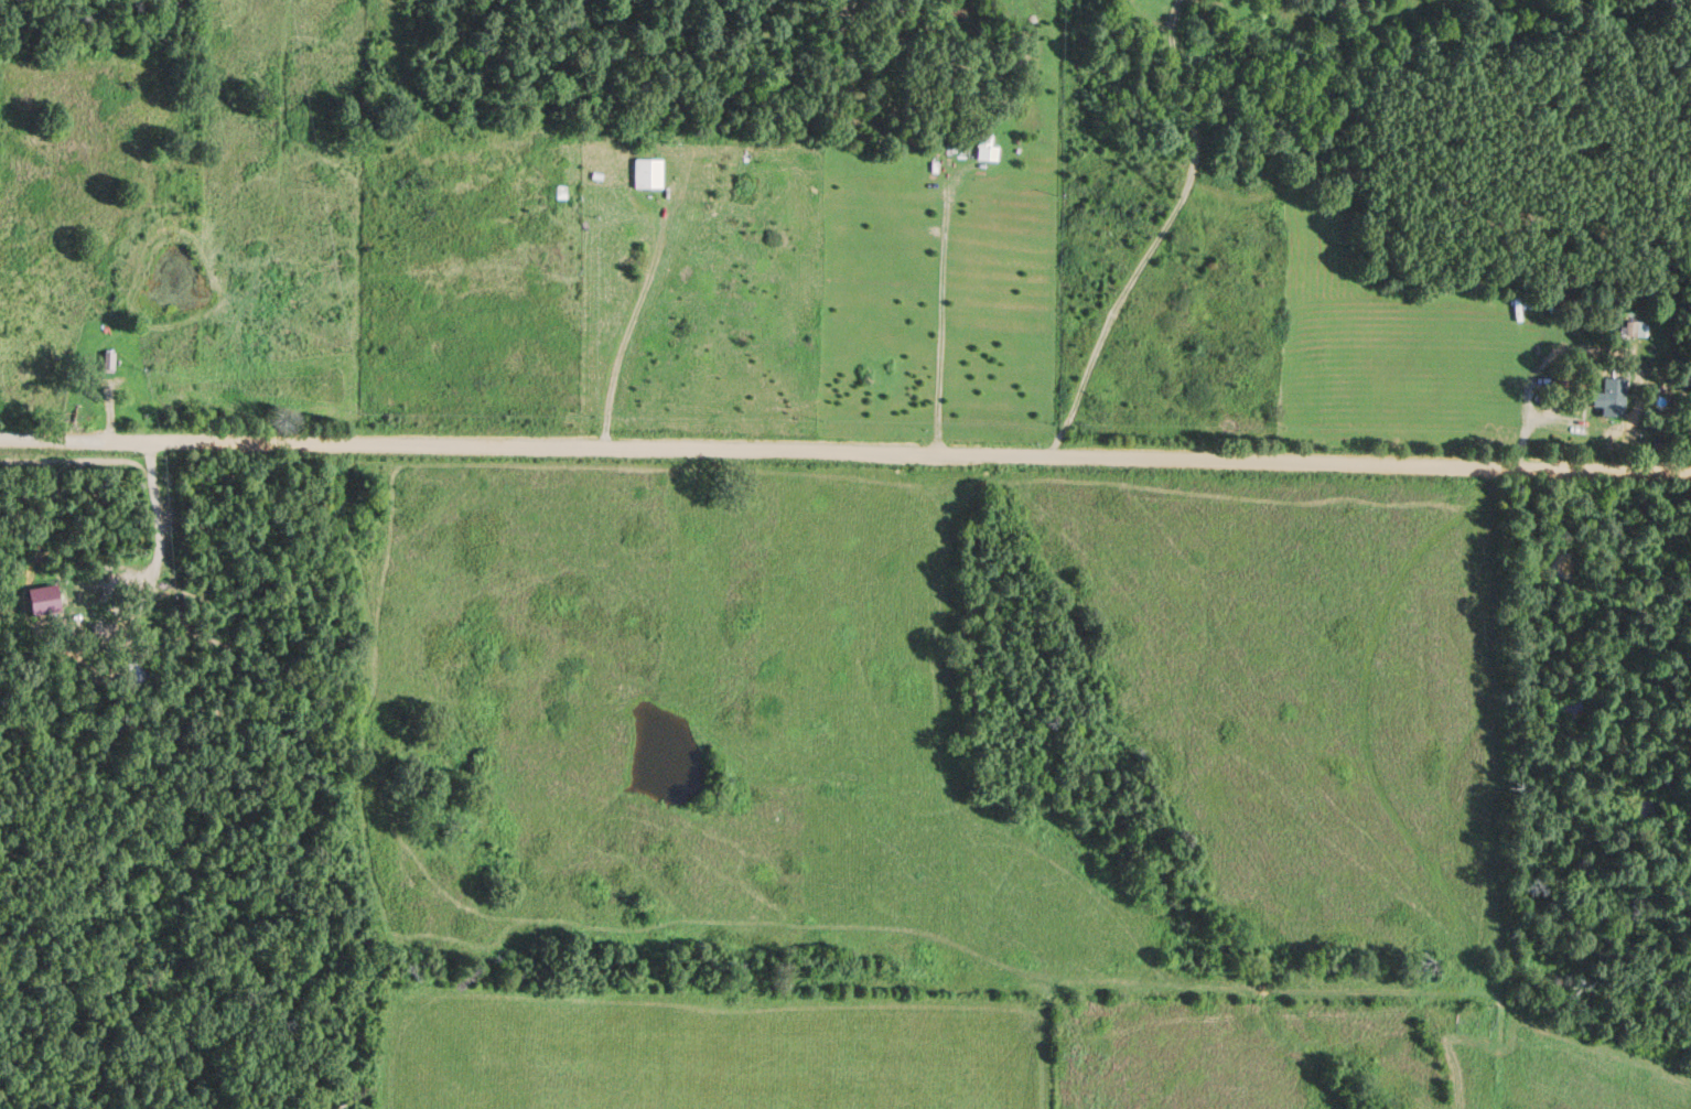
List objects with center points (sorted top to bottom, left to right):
road: (1089, 128)
building: (642, 176)
road: (1008, 235)
building: (1605, 400)
road: (846, 451)
road: (428, 595)
building: (94, 634)
building: (127, 672)

